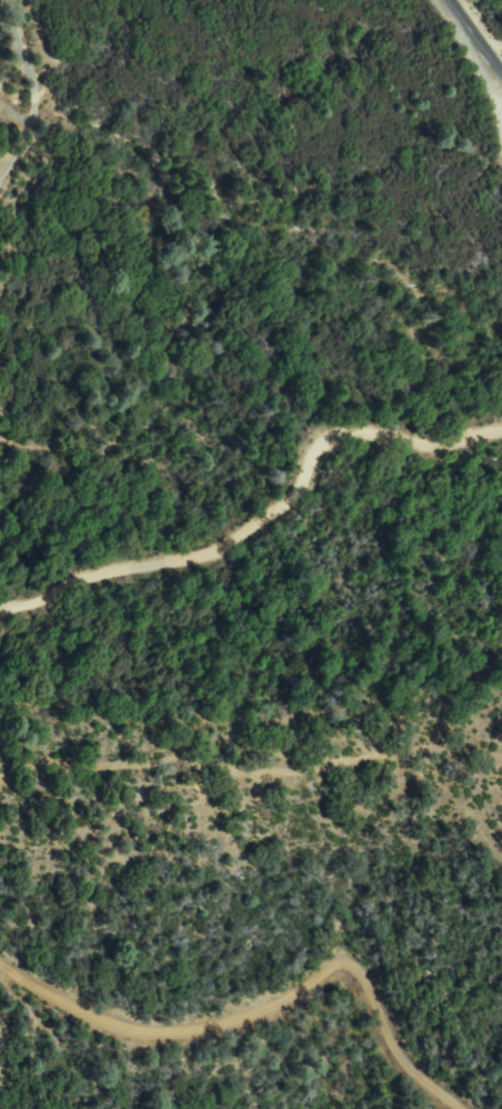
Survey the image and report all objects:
road: (464, 47)
road: (36, 91)
road: (259, 512)
road: (250, 770)
road: (268, 1009)

